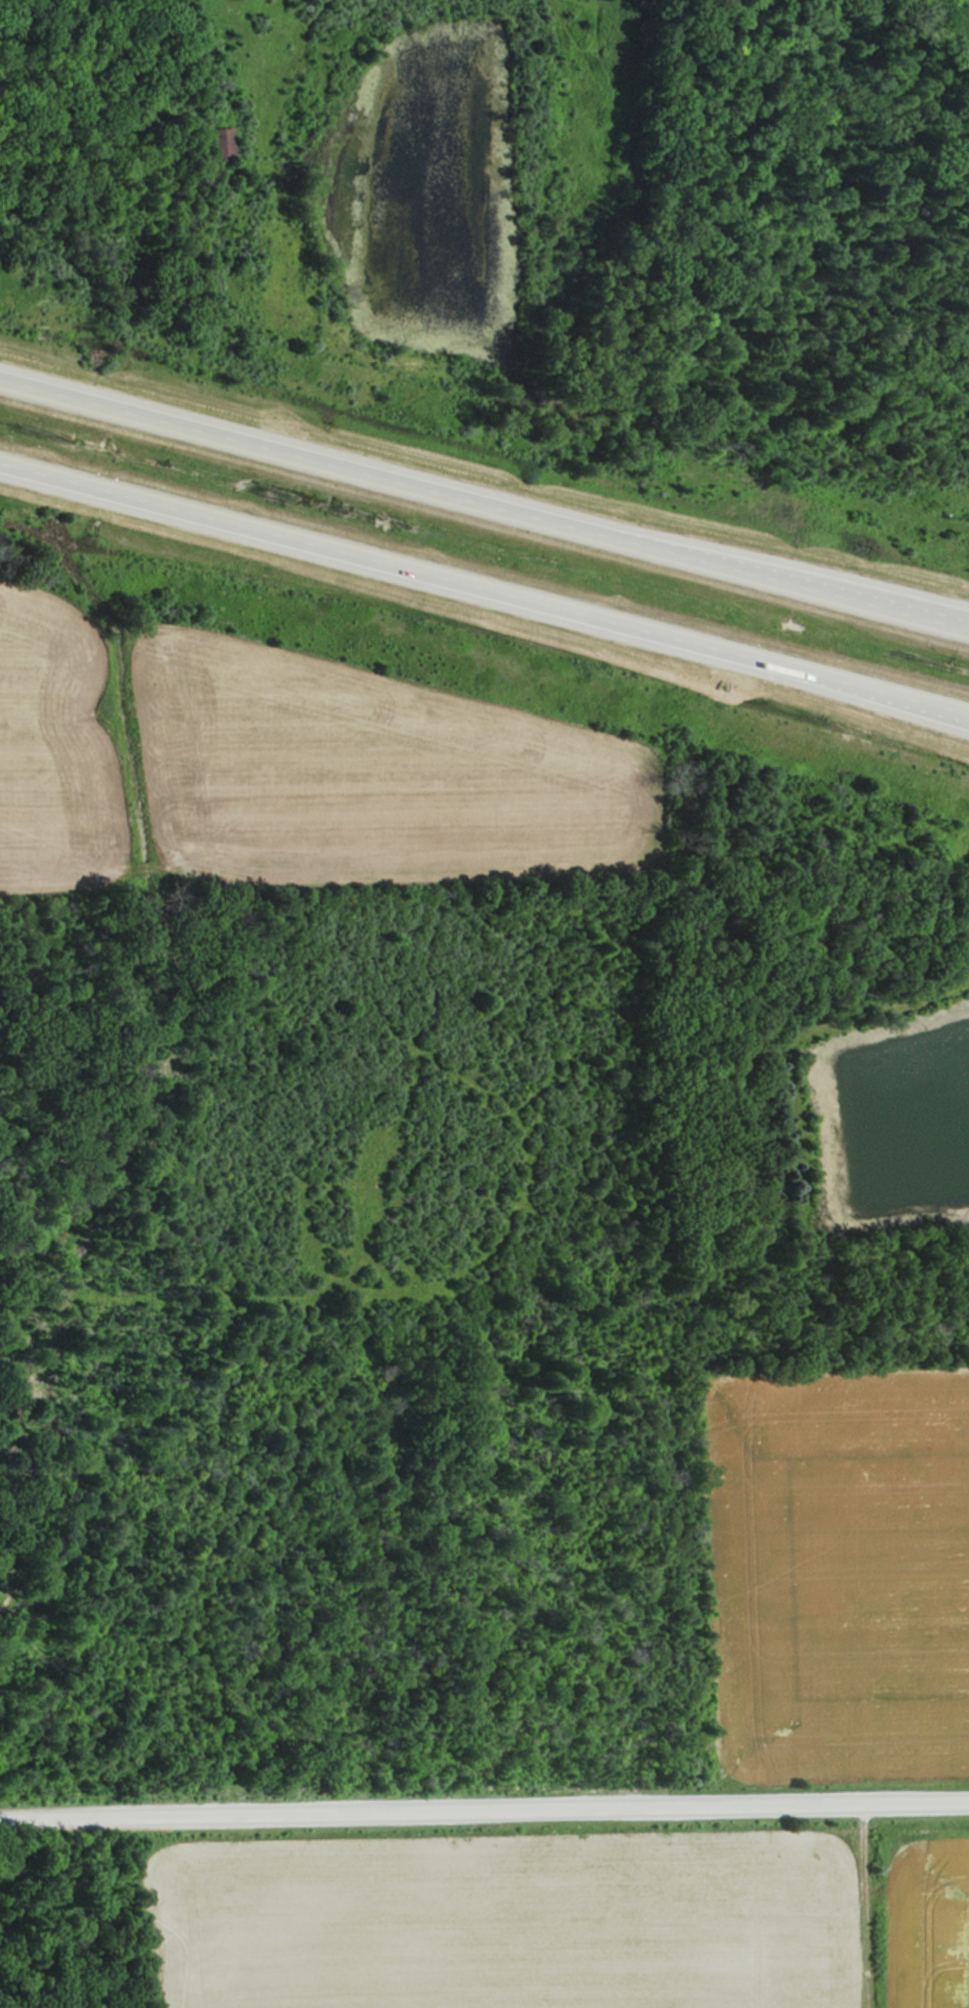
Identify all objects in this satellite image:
building: (217, 144)
road: (483, 499)
road: (715, 553)
road: (485, 588)
road: (789, 674)
road: (484, 1806)

